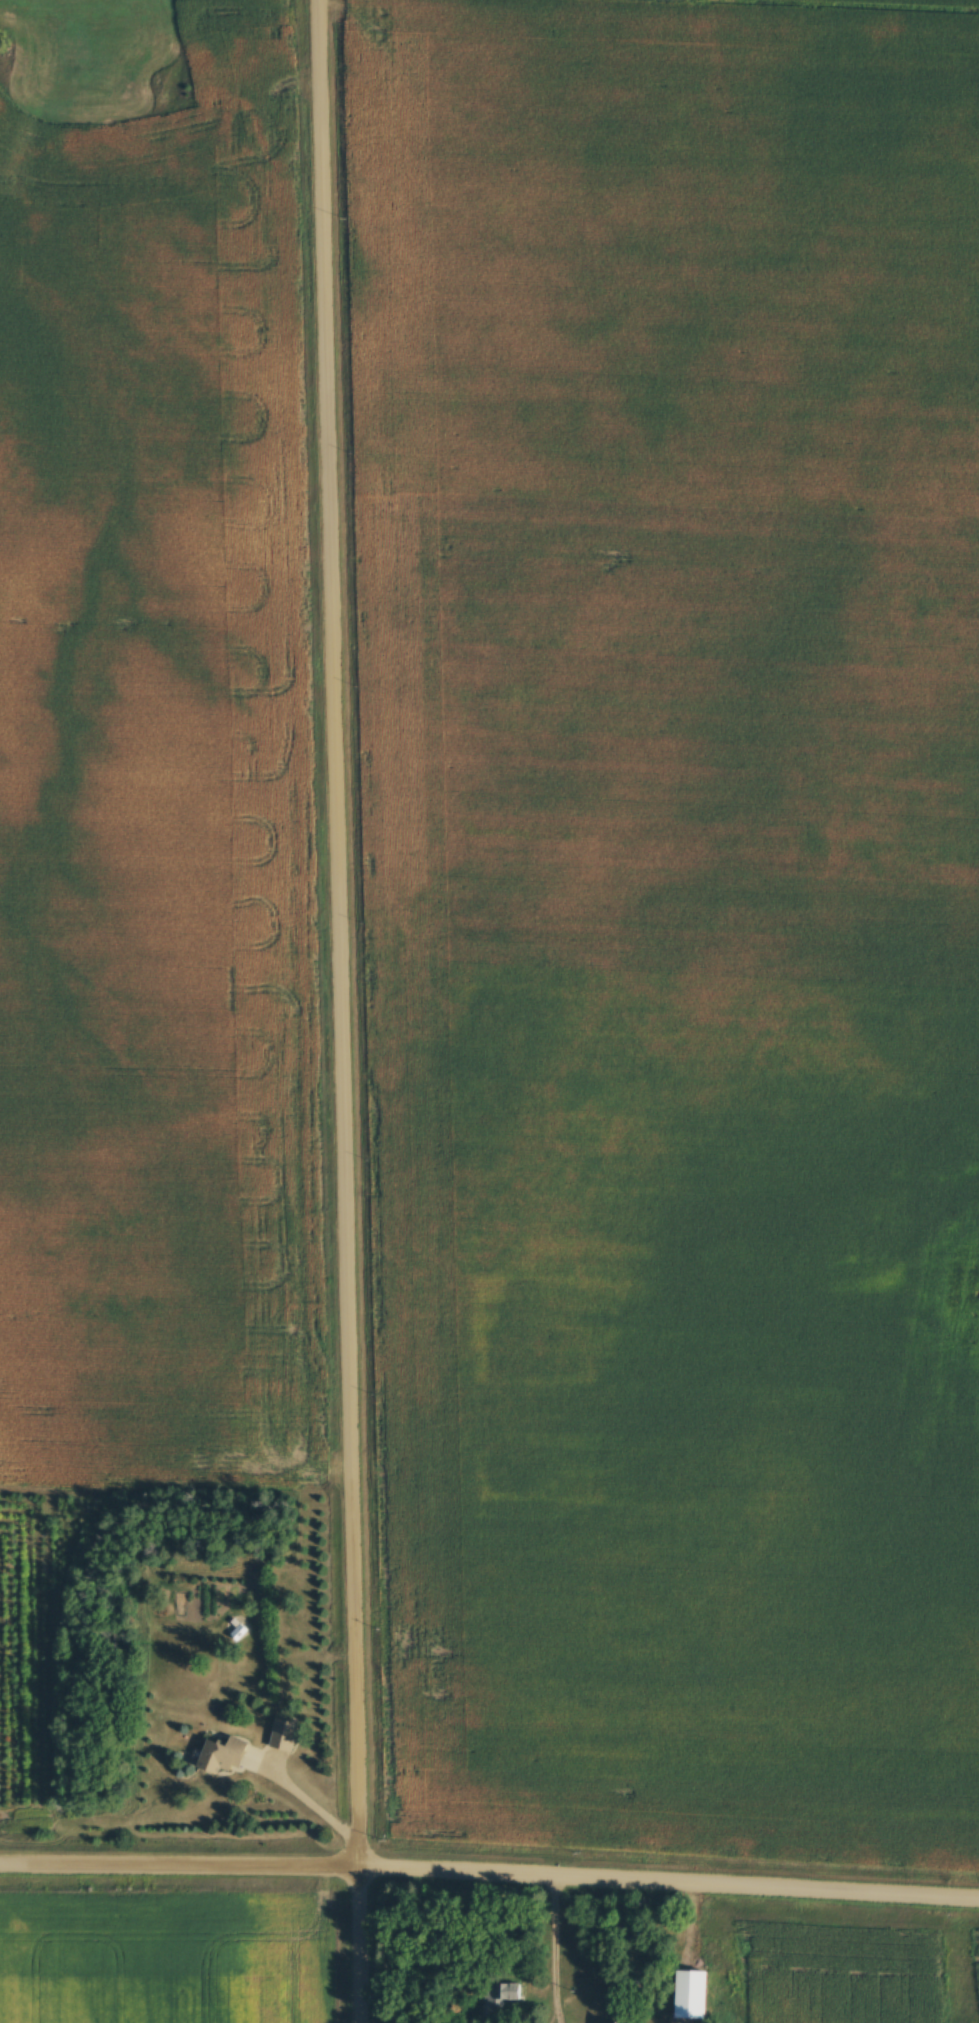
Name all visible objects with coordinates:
crop: (965, 0)
road: (341, 1011)
building: (286, 1734)
building: (227, 1755)
road: (489, 1872)
road: (555, 1946)
building: (502, 1994)
road: (556, 2019)
road: (560, 2019)

